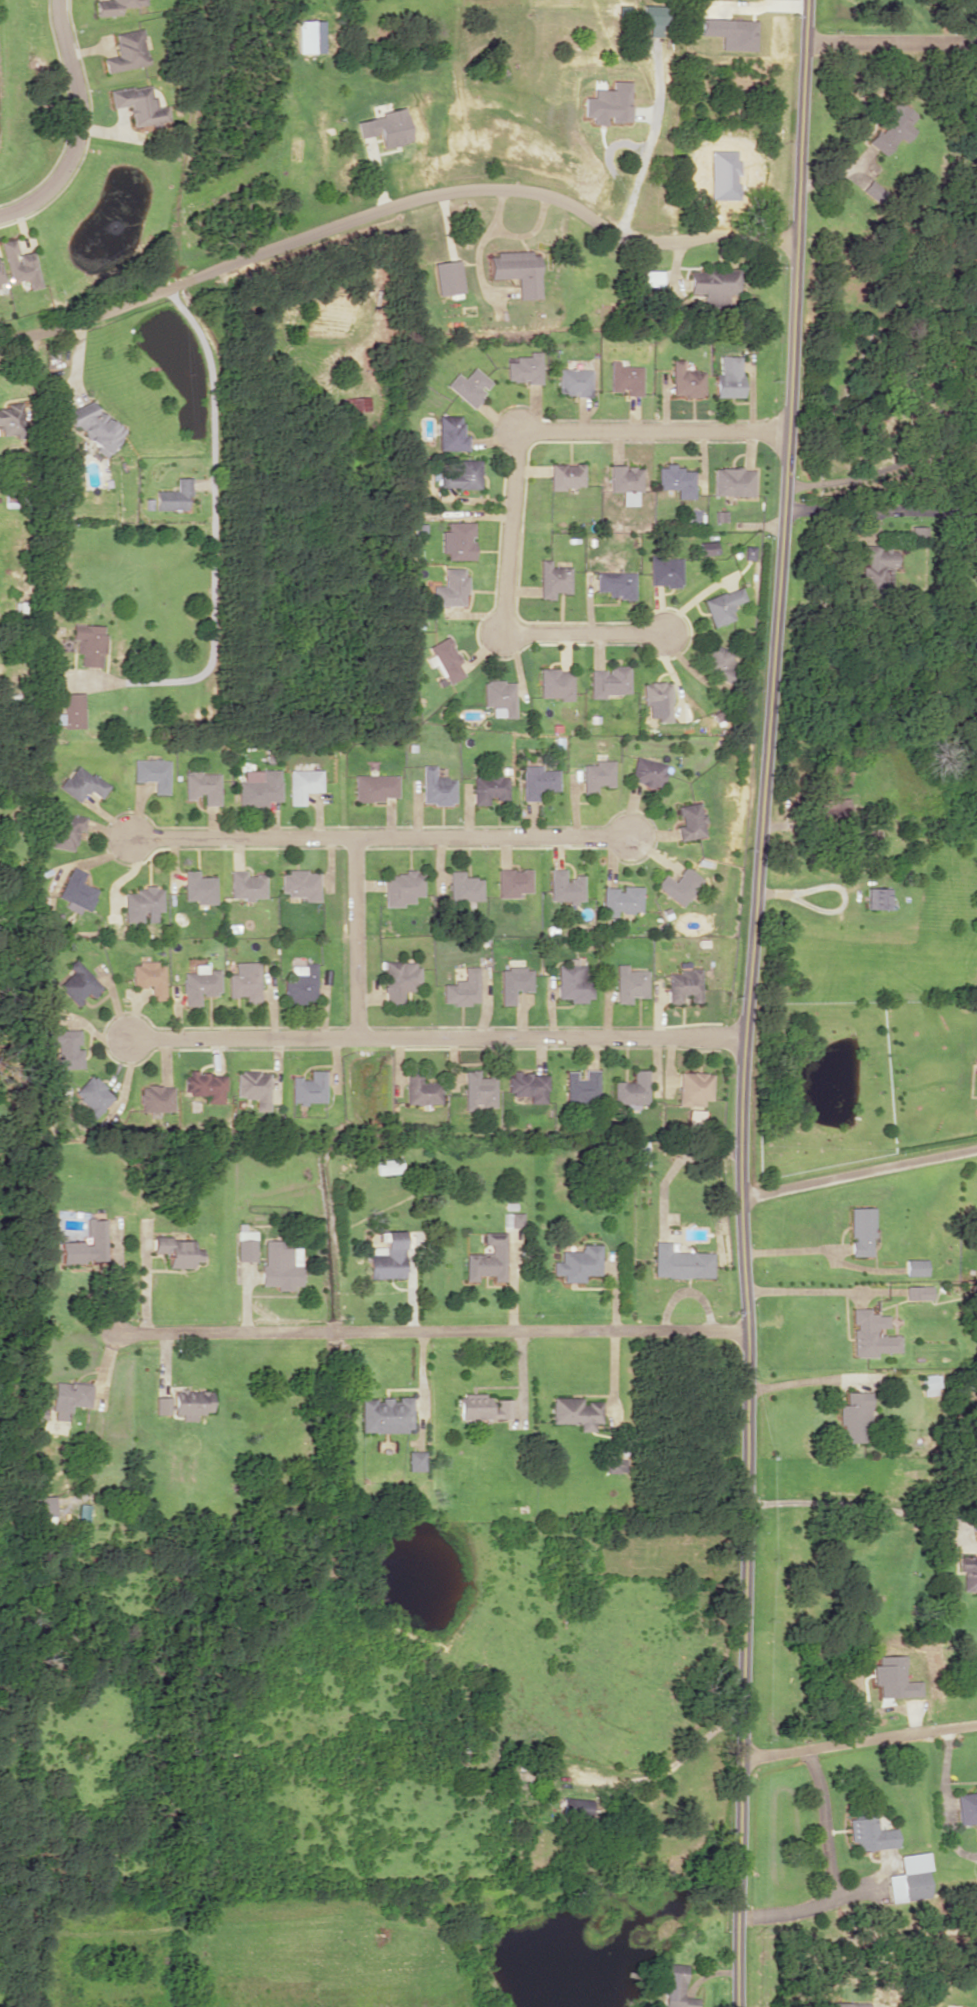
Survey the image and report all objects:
building: (113, 6)
building: (652, 18)
road: (889, 43)
building: (126, 51)
building: (138, 104)
road: (78, 125)
building: (384, 127)
building: (891, 127)
building: (976, 138)
road: (394, 205)
building: (18, 264)
building: (516, 271)
building: (447, 276)
building: (651, 277)
building: (1, 280)
building: (714, 284)
building: (524, 368)
building: (727, 377)
building: (625, 378)
building: (685, 380)
building: (573, 381)
building: (468, 386)
building: (357, 403)
building: (11, 419)
building: (94, 426)
building: (450, 433)
building: (460, 475)
building: (564, 475)
road: (511, 477)
building: (674, 480)
building: (732, 481)
building: (623, 482)
building: (173, 495)
building: (691, 516)
building: (456, 540)
building: (707, 547)
building: (875, 568)
building: (664, 572)
building: (552, 579)
building: (615, 584)
building: (449, 587)
building: (722, 605)
building: (88, 643)
building: (444, 660)
building: (718, 661)
building: (609, 681)
building: (555, 683)
building: (499, 697)
building: (658, 698)
building: (70, 710)
building: (648, 771)
building: (153, 773)
building: (597, 775)
building: (537, 781)
building: (83, 784)
building: (301, 784)
building: (373, 786)
building: (203, 787)
building: (258, 787)
building: (434, 787)
building: (488, 788)
building: (691, 821)
building: (67, 830)
road: (381, 837)
building: (512, 882)
building: (299, 884)
building: (245, 885)
building: (680, 885)
building: (565, 886)
building: (198, 887)
building: (400, 887)
building: (463, 887)
building: (77, 891)
building: (877, 897)
building: (622, 899)
building: (141, 902)
building: (53, 920)
road: (356, 938)
building: (149, 977)
building: (243, 981)
building: (77, 983)
building: (199, 983)
building: (298, 983)
building: (513, 983)
building: (573, 983)
building: (629, 983)
building: (683, 985)
building: (461, 988)
road: (745, 1002)
road: (434, 1038)
building: (65, 1048)
building: (204, 1085)
building: (527, 1085)
building: (252, 1087)
building: (307, 1087)
building: (581, 1087)
building: (693, 1087)
building: (419, 1089)
building: (477, 1090)
building: (631, 1090)
building: (91, 1096)
building: (155, 1098)
building: (387, 1165)
road: (856, 1172)
building: (512, 1219)
building: (860, 1230)
building: (85, 1244)
building: (245, 1245)
building: (175, 1251)
building: (387, 1256)
building: (487, 1258)
building: (680, 1262)
building: (578, 1263)
building: (279, 1264)
building: (915, 1267)
building: (917, 1292)
road: (429, 1329)
building: (870, 1334)
building: (929, 1384)
building: (68, 1398)
building: (191, 1402)
building: (162, 1405)
building: (482, 1406)
building: (575, 1412)
building: (386, 1414)
building: (853, 1417)
building: (416, 1460)
building: (615, 1465)
building: (43, 1509)
building: (968, 1573)
building: (894, 1676)
road: (859, 1738)
building: (576, 1806)
building: (966, 1807)
building: (868, 1830)
building: (910, 1878)
building: (674, 1986)
building: (847, 2004)

